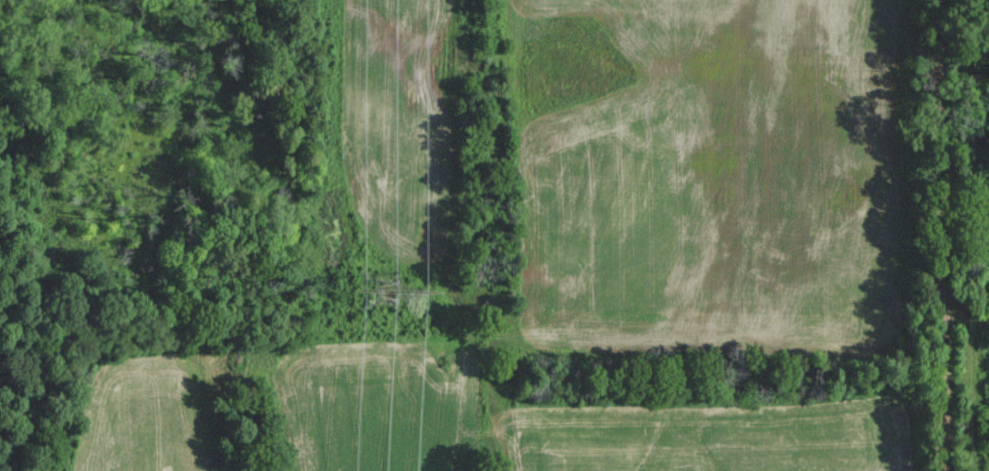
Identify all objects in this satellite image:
road: (946, 235)
power tower: (380, 288)

